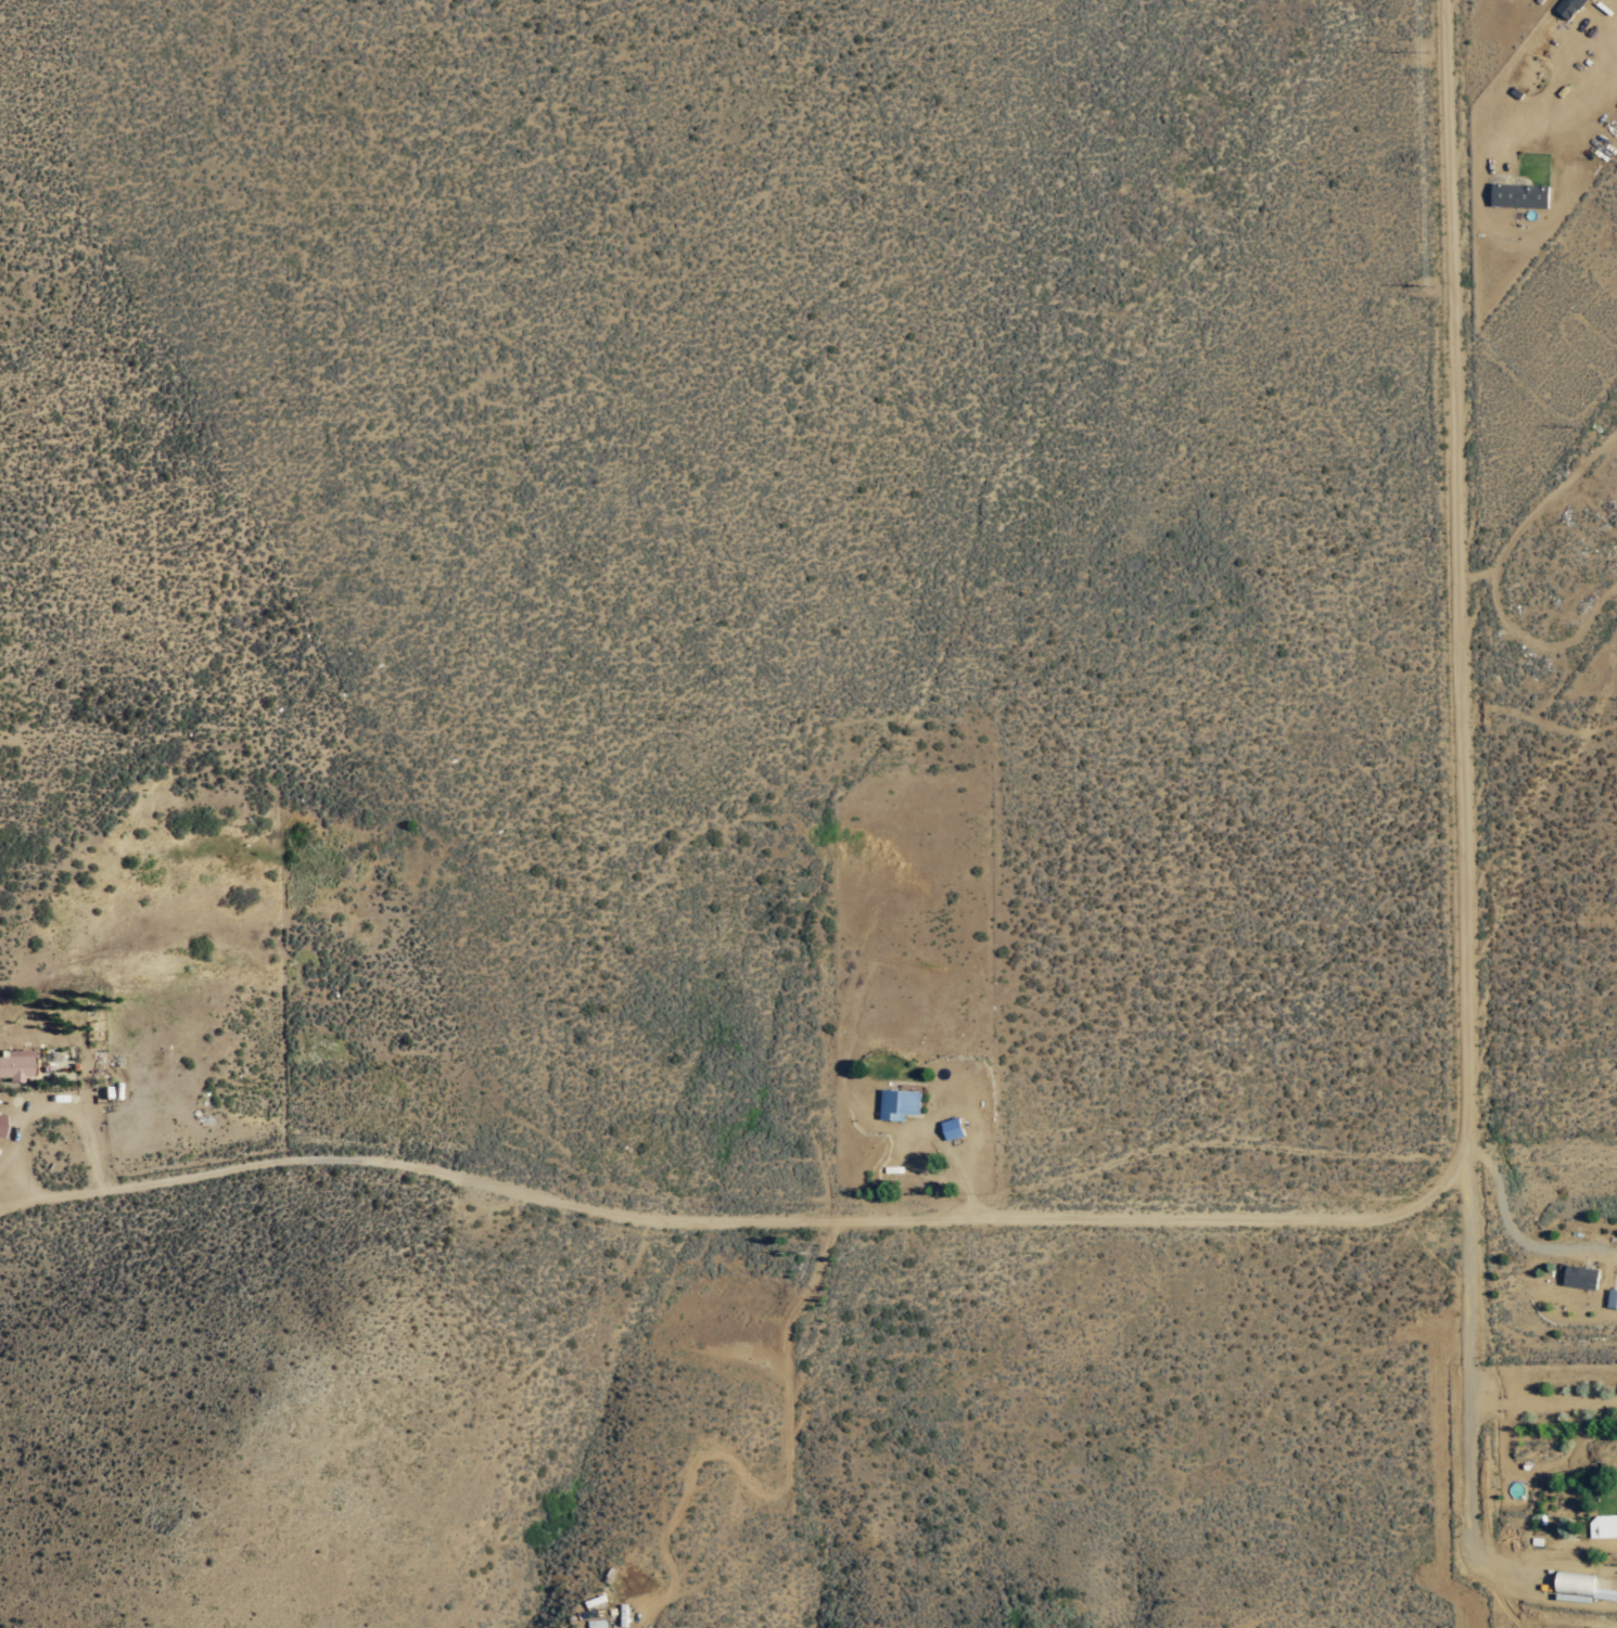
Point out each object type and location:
building: (1567, 8)
building: (1517, 195)
road: (1462, 573)
building: (12, 1064)
building: (895, 1102)
building: (950, 1127)
road: (817, 1214)
building: (1578, 1276)
building: (1610, 1298)
building: (1602, 1525)

